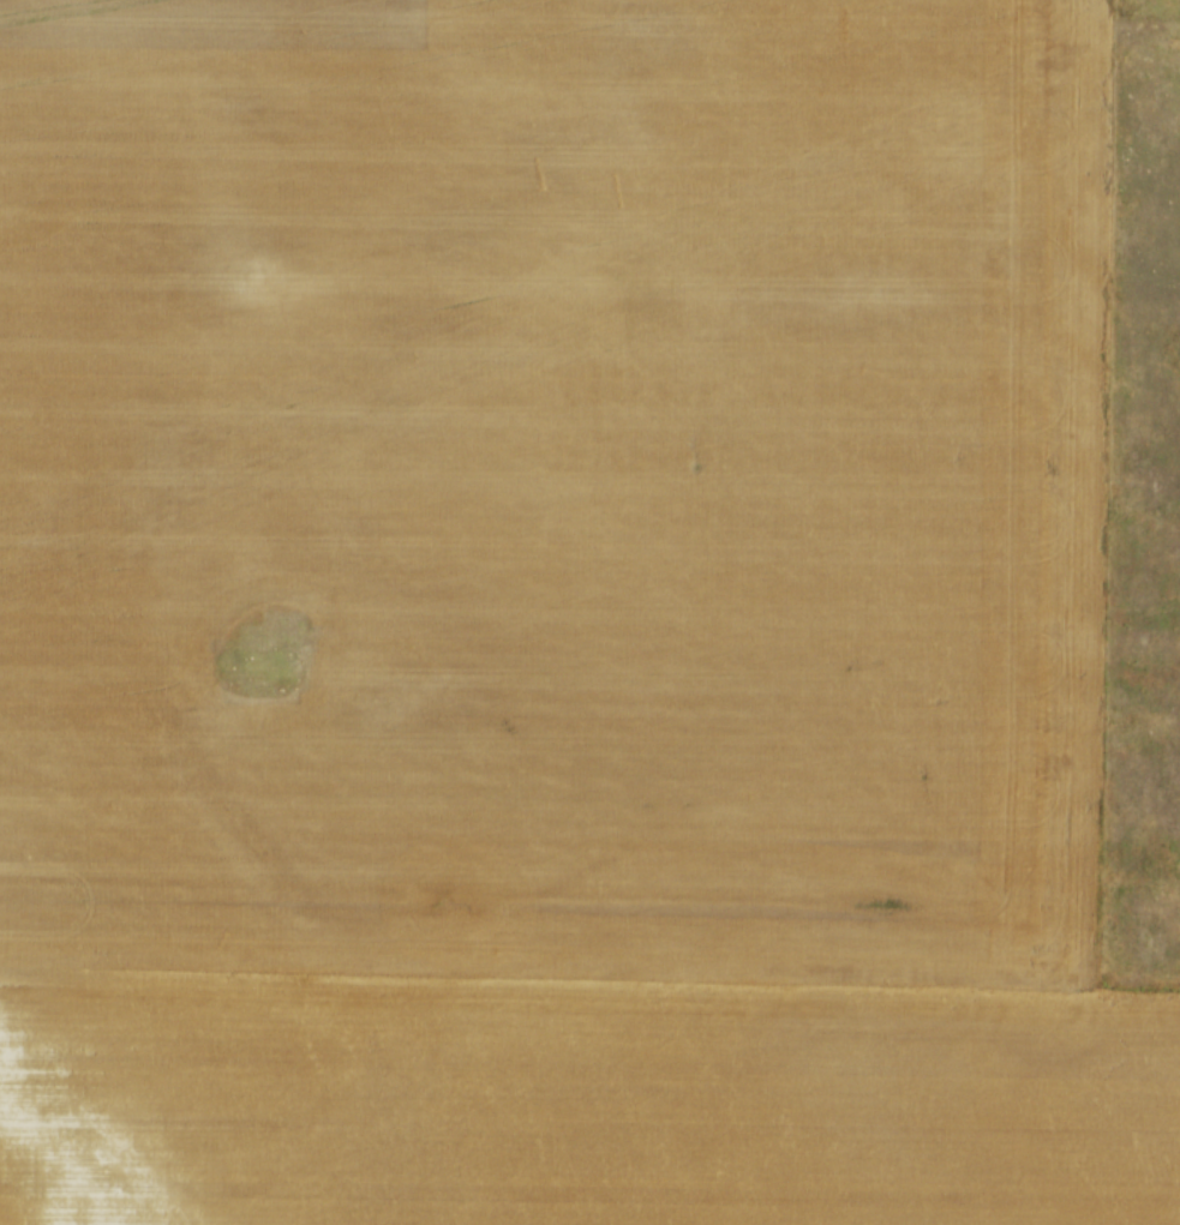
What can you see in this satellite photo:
crop: (562, 617)

